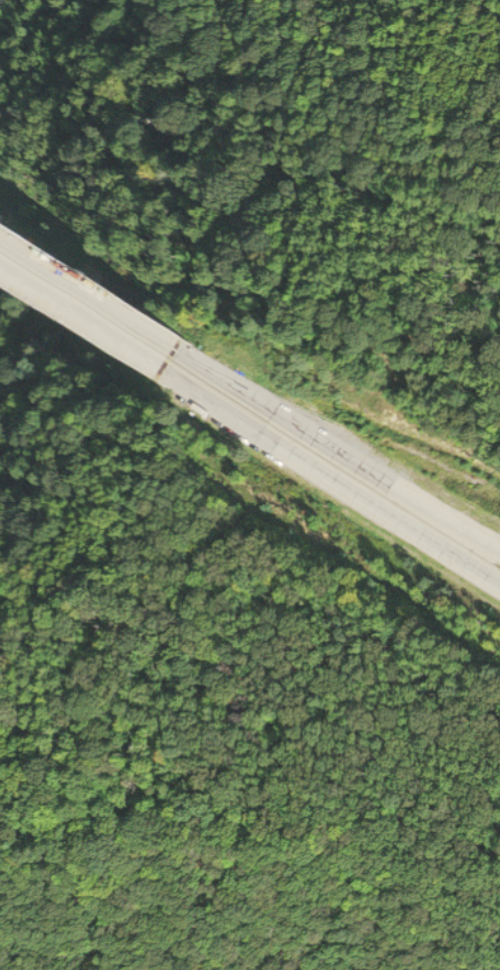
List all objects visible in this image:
road: (86, 295)
road: (80, 318)
road: (336, 449)
road: (330, 478)

